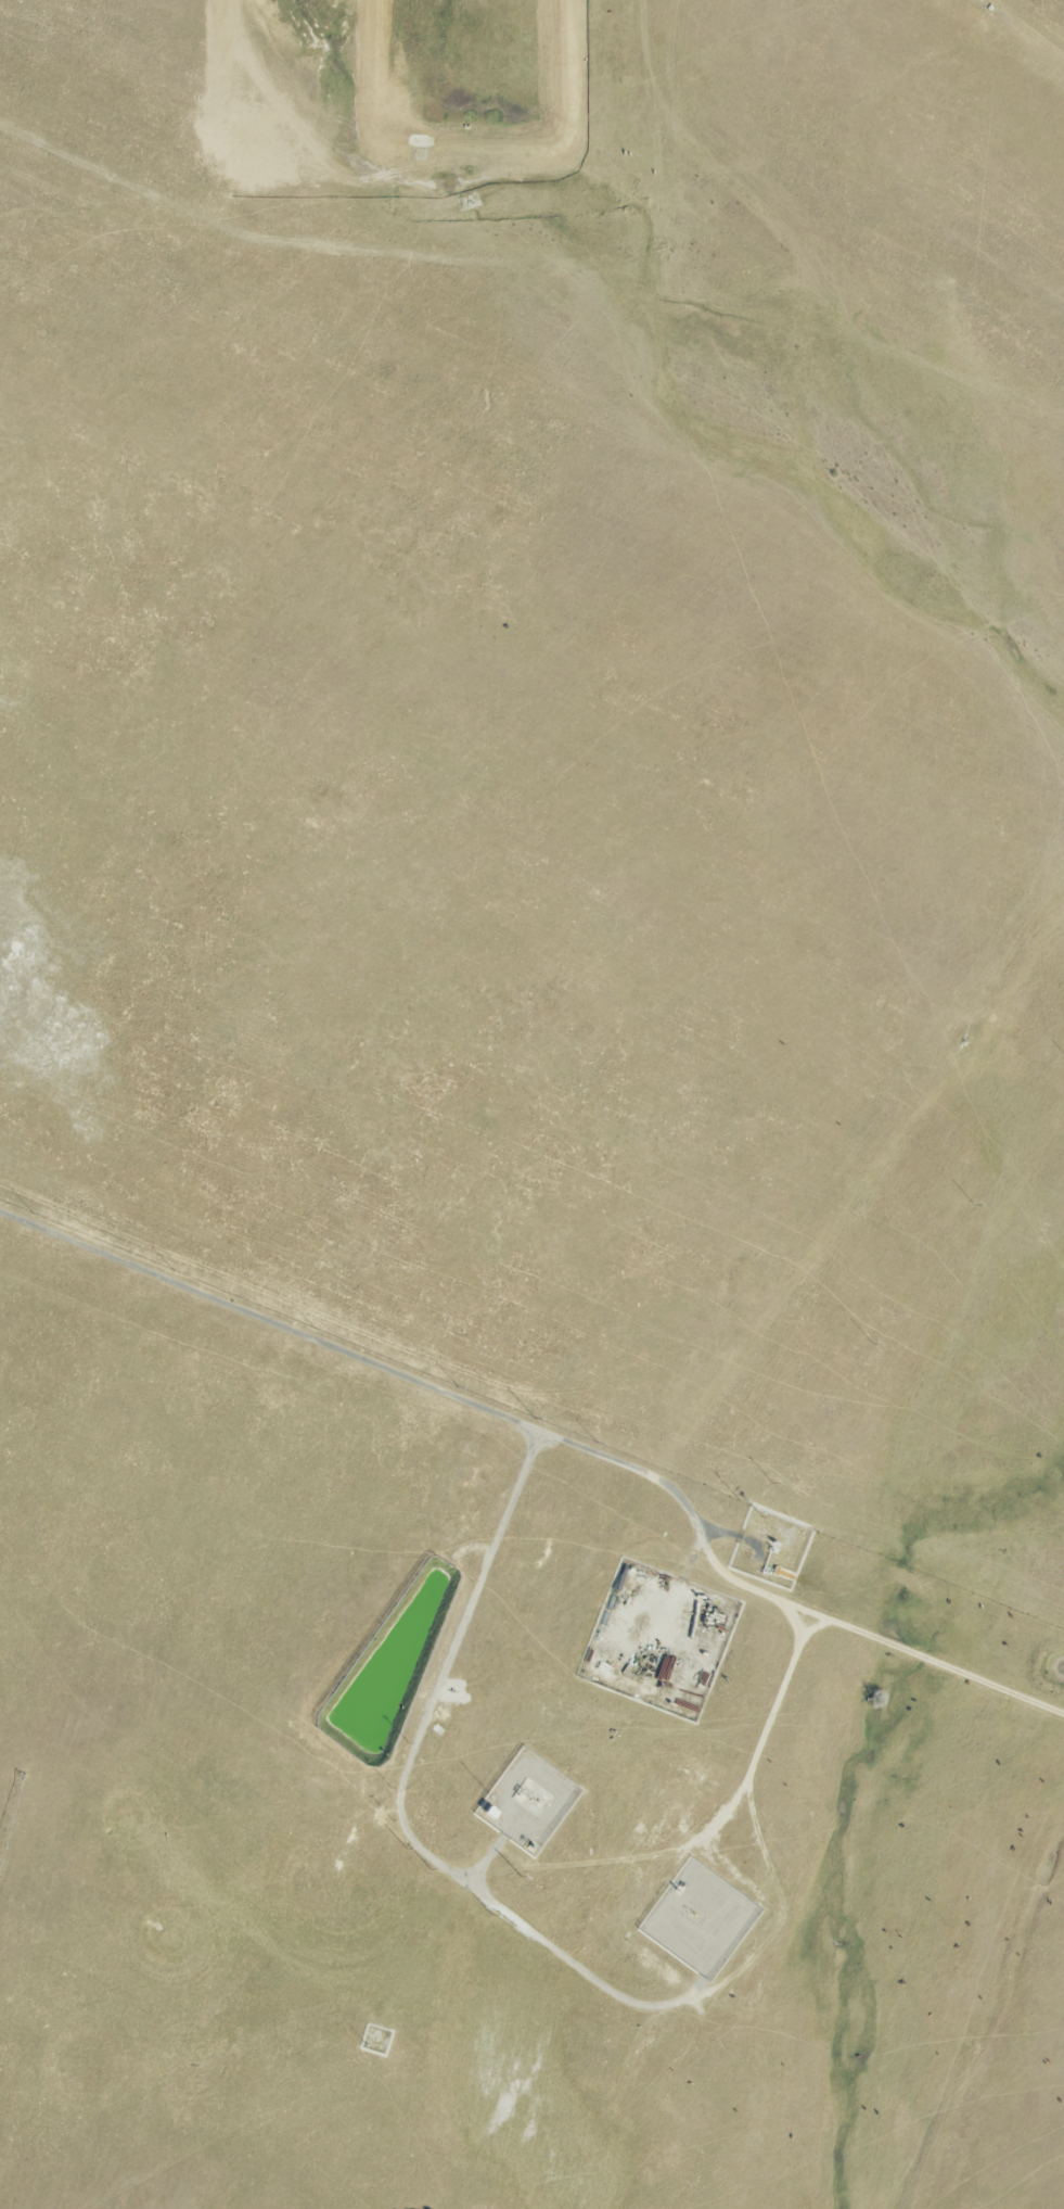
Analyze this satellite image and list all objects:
road: (554, 1434)
road: (459, 1874)

